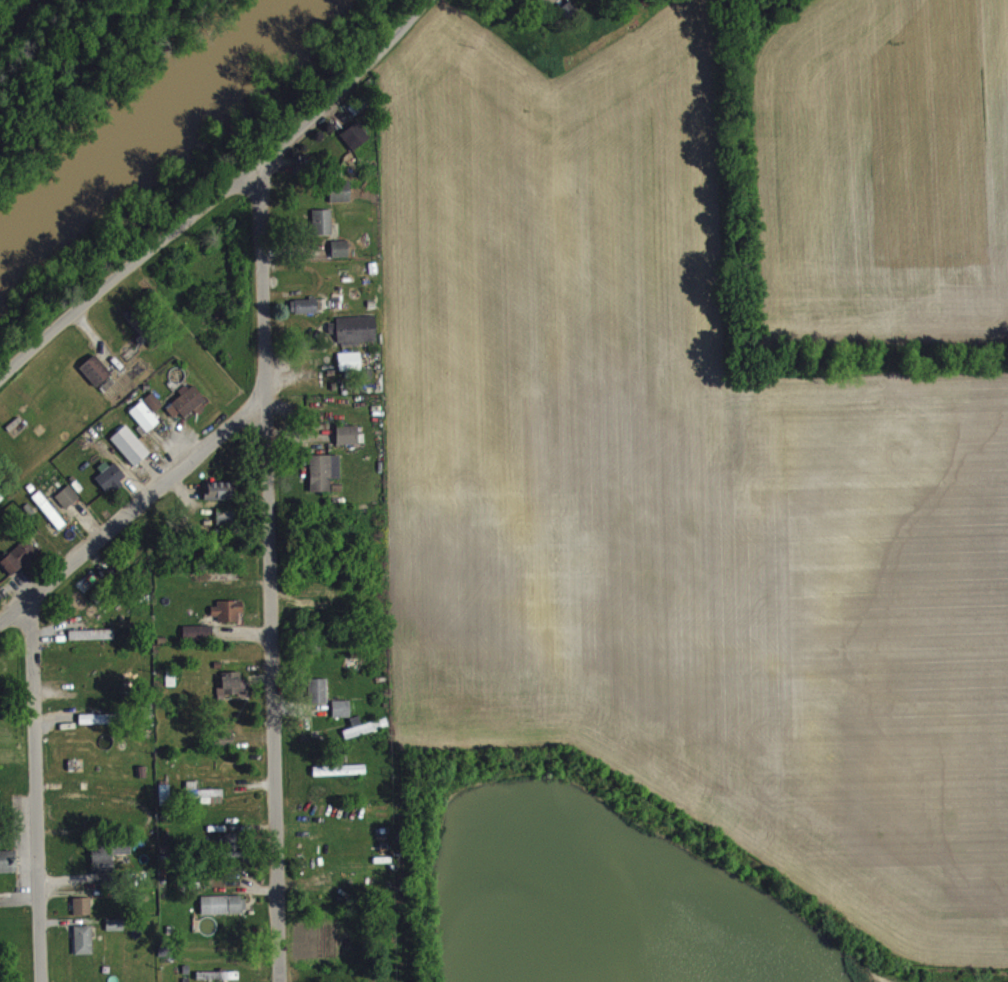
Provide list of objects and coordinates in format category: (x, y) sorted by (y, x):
building: (580, 0)
river: (158, 128)
building: (355, 143)
road: (217, 197)
building: (341, 199)
building: (323, 229)
building: (340, 256)
building: (304, 313)
building: (137, 329)
building: (355, 337)
building: (350, 368)
building: (96, 378)
building: (154, 409)
building: (188, 410)
building: (145, 424)
building: (348, 442)
building: (131, 453)
building: (324, 479)
building: (111, 482)
building: (221, 498)
building: (68, 504)
building: (50, 517)
road: (132, 518)
building: (226, 524)
building: (20, 564)
road: (267, 570)
building: (227, 618)
building: (198, 640)
building: (92, 642)
building: (234, 690)
building: (319, 698)
building: (342, 716)
building: (366, 735)
building: (226, 744)
building: (340, 778)
road: (33, 794)
building: (210, 803)
building: (109, 864)
building: (8, 869)
building: (224, 912)
building: (83, 914)
building: (84, 947)
building: (219, 980)

